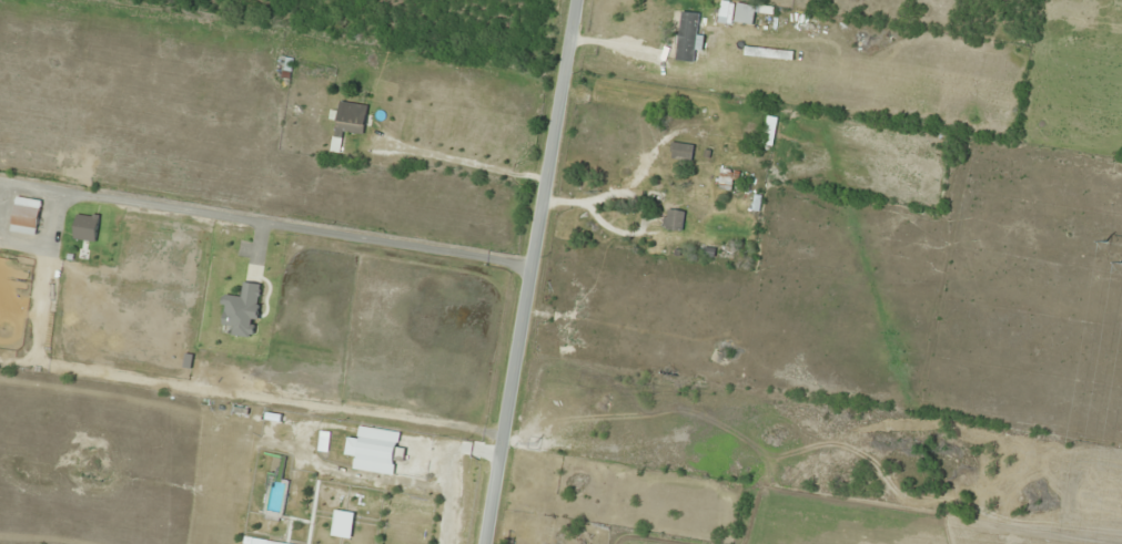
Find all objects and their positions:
building: (744, 13)
building: (348, 121)
building: (681, 152)
building: (24, 216)
building: (673, 219)
power tower: (1121, 263)
road: (536, 271)
building: (371, 450)

